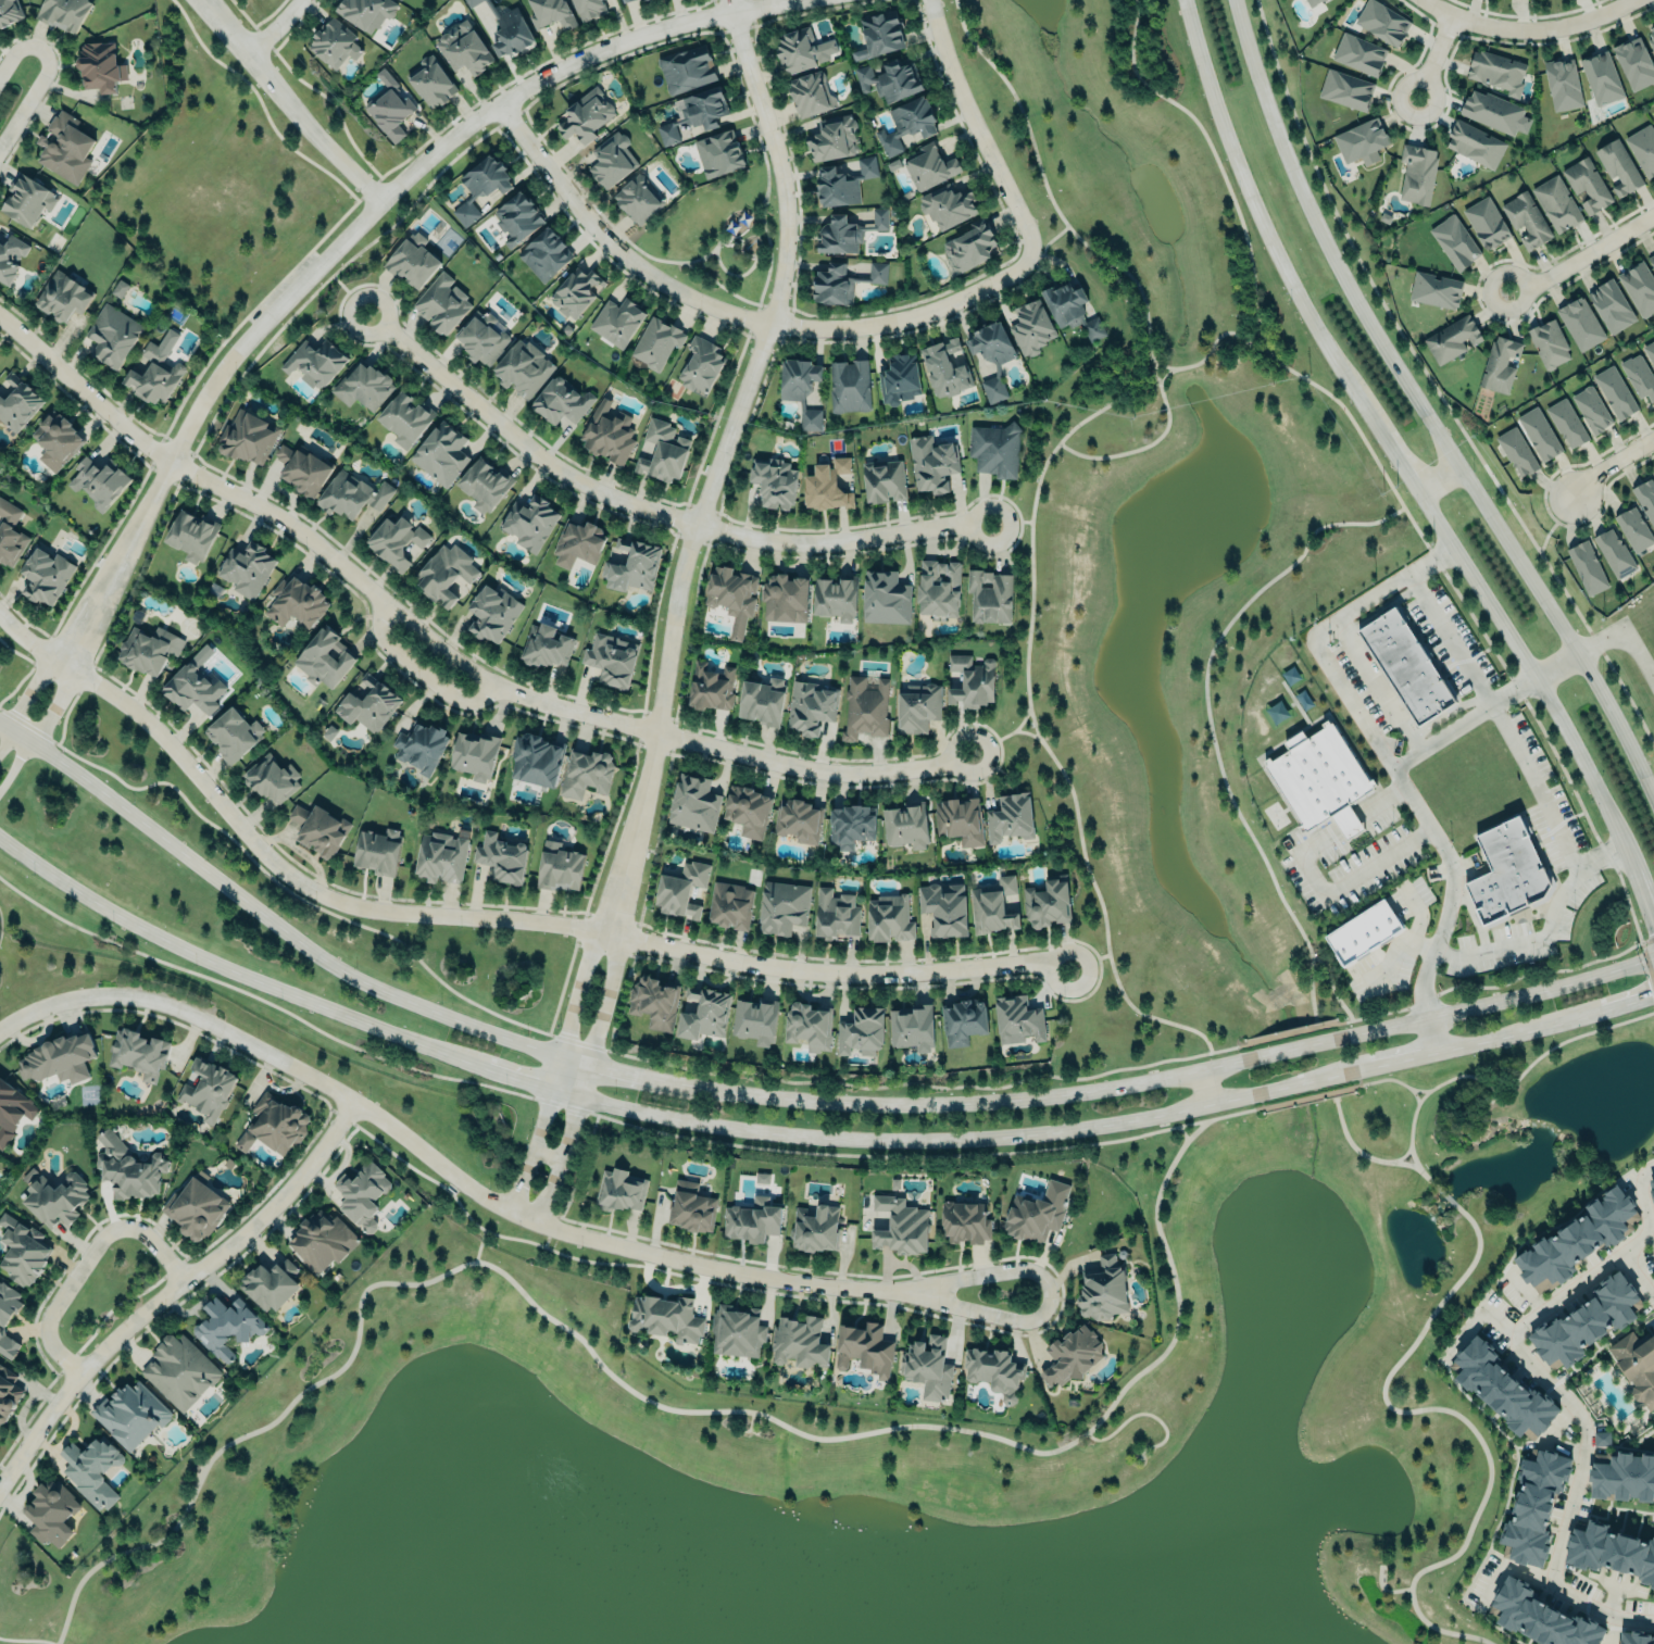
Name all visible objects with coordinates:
building: (624, 0)
building: (471, 2)
building: (1311, 2)
building: (589, 8)
building: (9, 11)
building: (63, 12)
building: (366, 12)
building: (551, 12)
building: (1382, 22)
building: (509, 28)
road: (273, 29)
road: (1526, 29)
building: (879, 34)
building: (1651, 39)
building: (334, 43)
building: (463, 48)
building: (801, 48)
building: (1359, 54)
road: (1433, 55)
building: (100, 61)
building: (1633, 62)
building: (687, 68)
building: (1496, 71)
road: (41, 76)
building: (1601, 77)
building: (889, 78)
building: (430, 80)
building: (1563, 83)
road: (305, 87)
building: (1345, 89)
building: (810, 93)
road: (256, 104)
road: (283, 104)
building: (388, 111)
building: (1492, 111)
building: (697, 112)
building: (585, 114)
building: (1653, 118)
building: (906, 123)
road: (976, 128)
building: (832, 138)
building: (1362, 140)
building: (1475, 145)
building: (65, 147)
building: (1643, 149)
building: (718, 152)
building: (611, 159)
building: (929, 167)
building: (1618, 167)
building: (1417, 173)
building: (843, 183)
building: (480, 185)
building: (1587, 185)
building: (25, 198)
building: (638, 198)
building: (947, 204)
building: (1556, 204)
building: (515, 217)
building: (879, 218)
building: (1526, 219)
building: (1486, 222)
road: (347, 230)
building: (838, 236)
road: (1048, 241)
building: (1454, 242)
building: (970, 247)
building: (544, 254)
building: (11, 255)
road: (1584, 255)
building: (1651, 260)
building: (413, 261)
road: (1105, 261)
building: (840, 277)
road: (1126, 283)
building: (1639, 287)
building: (118, 288)
road: (343, 288)
building: (1434, 289)
building: (576, 291)
building: (62, 294)
building: (441, 302)
road: (252, 304)
building: (1611, 306)
building: (1070, 308)
road: (731, 312)
building: (617, 321)
building: (1580, 323)
building: (1030, 327)
building: (112, 335)
building: (483, 337)
road: (1251, 338)
building: (1452, 339)
building: (656, 342)
building: (991, 343)
building: (1548, 343)
road: (1211, 348)
building: (1650, 351)
building: (315, 360)
building: (701, 363)
building: (1500, 364)
building: (523, 367)
building: (943, 368)
building: (154, 374)
road: (1164, 376)
building: (1639, 376)
building: (898, 378)
building: (363, 385)
building: (849, 385)
building: (800, 387)
building: (993, 388)
building: (1615, 391)
building: (561, 401)
building: (17, 402)
building: (1591, 409)
road: (1423, 410)
building: (404, 415)
building: (1566, 423)
building: (1539, 432)
building: (245, 435)
building: (607, 436)
building: (55, 440)
building: (994, 449)
building: (665, 450)
building: (440, 452)
building: (1516, 452)
building: (931, 462)
road: (714, 463)
road: (1609, 463)
building: (641, 465)
building: (302, 469)
road: (1406, 470)
road: (1439, 477)
building: (882, 479)
road: (1386, 479)
building: (98, 481)
building: (774, 481)
building: (484, 485)
building: (827, 485)
building: (351, 494)
building: (1645, 497)
road: (650, 512)
building: (529, 523)
road: (1011, 523)
building: (1633, 528)
building: (10, 534)
road: (1546, 534)
building: (191, 536)
building: (397, 542)
building: (578, 542)
building: (1614, 553)
building: (632, 565)
building: (1587, 567)
building: (246, 568)
building: (443, 573)
building: (45, 574)
building: (938, 587)
building: (731, 597)
building: (836, 597)
building: (990, 597)
building: (785, 598)
building: (885, 598)
building: (296, 601)
building: (491, 612)
road: (1319, 630)
road: (1624, 637)
road: (1452, 638)
building: (544, 645)
building: (148, 648)
road: (441, 651)
building: (323, 656)
building: (611, 658)
road: (1556, 664)
building: (1405, 665)
road: (1025, 669)
road: (414, 670)
building: (970, 680)
road: (1376, 686)
building: (192, 687)
building: (710, 687)
road: (24, 699)
building: (762, 701)
building: (810, 706)
building: (916, 706)
building: (865, 707)
road: (1207, 719)
road: (38, 726)
road: (1029, 731)
building: (231, 733)
road: (1002, 736)
building: (421, 748)
building: (474, 755)
building: (536, 761)
building: (586, 773)
building: (272, 778)
building: (1318, 780)
road: (1534, 786)
building: (693, 803)
road: (1381, 803)
road: (1418, 810)
building: (748, 811)
building: (1010, 817)
building: (798, 819)
building: (958, 820)
road: (1348, 824)
building: (851, 825)
building: (905, 826)
building: (318, 829)
building: (377, 851)
building: (441, 856)
building: (501, 857)
building: (559, 866)
building: (1506, 871)
road: (1343, 882)
building: (680, 889)
building: (1048, 903)
building: (729, 905)
building: (782, 906)
building: (993, 906)
building: (944, 908)
building: (835, 915)
road: (481, 918)
building: (889, 918)
road: (266, 920)
building: (1363, 932)
road: (1549, 933)
road: (1087, 962)
road: (234, 972)
road: (1330, 989)
road: (579, 991)
building: (655, 1002)
road: (1608, 1005)
building: (704, 1013)
road: (601, 1015)
building: (755, 1019)
building: (1018, 1019)
building: (963, 1021)
building: (911, 1025)
building: (809, 1026)
building: (861, 1030)
road: (1341, 1030)
road: (1433, 1034)
road: (1501, 1036)
building: (138, 1052)
road: (1243, 1052)
building: (58, 1058)
road: (1396, 1062)
road: (622, 1071)
road: (559, 1075)
road: (1173, 1076)
road: (1356, 1078)
road: (519, 1080)
road: (784, 1082)
road: (1200, 1088)
building: (206, 1089)
road: (1418, 1090)
road: (1491, 1090)
road: (1476, 1099)
road: (1256, 1102)
building: (12, 1110)
building: (277, 1122)
road: (540, 1131)
road: (1182, 1132)
road: (691, 1137)
road: (567, 1139)
road: (955, 1140)
building: (245, 1141)
road: (585, 1151)
road: (1358, 1153)
road: (1401, 1157)
road: (435, 1164)
building: (127, 1168)
building: (761, 1177)
building: (1652, 1189)
road: (518, 1191)
building: (621, 1191)
building: (362, 1194)
road: (1446, 1197)
building: (57, 1199)
road: (544, 1202)
road: (566, 1202)
building: (690, 1207)
building: (195, 1208)
road: (1645, 1215)
building: (1035, 1216)
building: (752, 1220)
building: (965, 1222)
road: (473, 1226)
building: (901, 1226)
building: (814, 1228)
road: (479, 1233)
road: (547, 1237)
building: (323, 1239)
building: (1577, 1239)
road: (475, 1250)
building: (23, 1251)
road: (1031, 1257)
road: (83, 1262)
building: (268, 1285)
road: (170, 1287)
building: (1103, 1289)
road: (1526, 1291)
road: (1049, 1295)
road: (168, 1308)
road: (1478, 1314)
building: (666, 1317)
building: (8, 1318)
building: (1584, 1322)
building: (226, 1326)
building: (737, 1331)
building: (799, 1341)
building: (864, 1348)
building: (1072, 1356)
building: (1637, 1365)
building: (927, 1367)
building: (179, 1370)
building: (994, 1371)
building: (1502, 1390)
road: (637, 1395)
building: (8, 1396)
road: (1578, 1411)
building: (130, 1413)
road: (1144, 1414)
road: (1462, 1419)
park: (904, 1429)
building: (1601, 1438)
building: (90, 1470)
building: (1621, 1477)
building: (1533, 1507)
building: (51, 1514)
building: (1608, 1552)
road: (1507, 1569)
road: (1383, 1590)
building: (1537, 1617)
road: (1612, 1630)
building: (1636, 1637)
road: (26, 1640)

